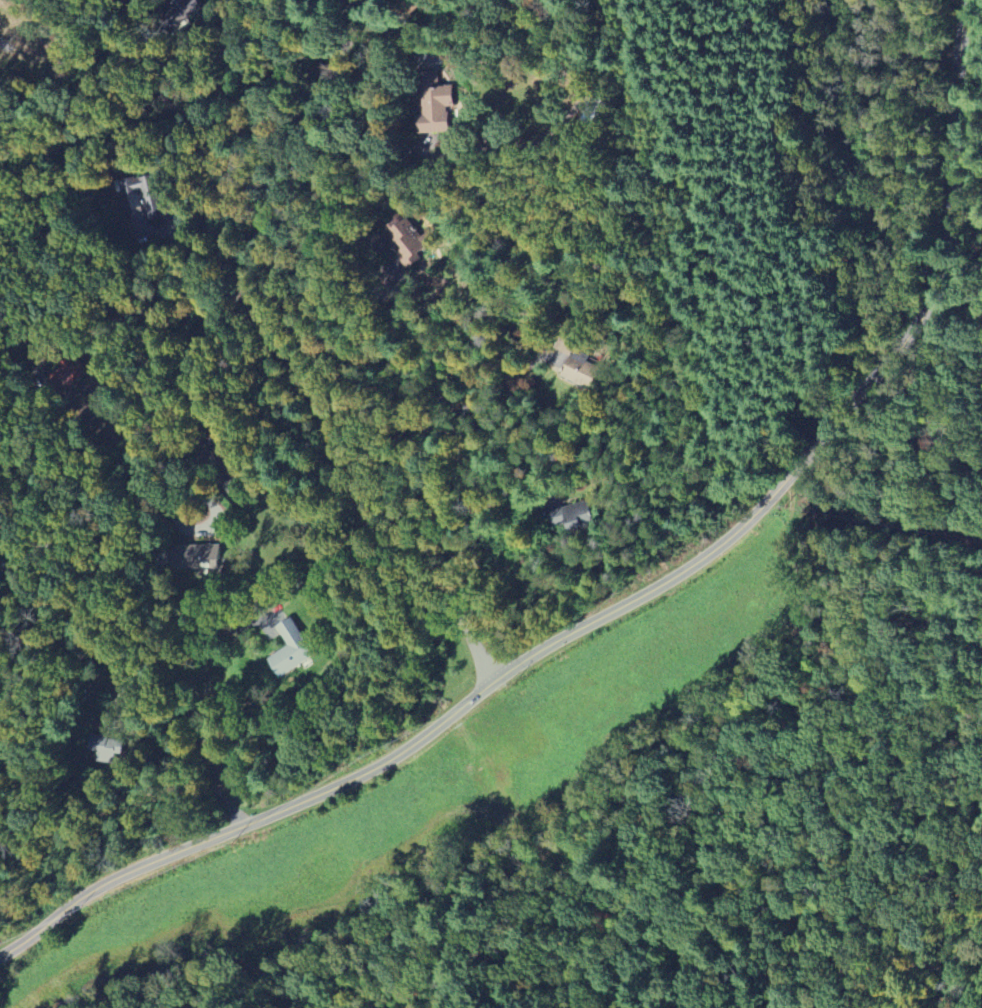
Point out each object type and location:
building: (184, 11)
road: (189, 34)
road: (371, 77)
building: (435, 106)
road: (301, 141)
building: (154, 214)
road: (731, 234)
road: (184, 236)
building: (406, 241)
road: (328, 254)
road: (128, 339)
building: (581, 370)
road: (446, 428)
road: (155, 463)
road: (352, 489)
building: (571, 518)
road: (67, 527)
road: (476, 544)
building: (194, 557)
road: (634, 601)
building: (290, 649)
road: (119, 671)
road: (49, 702)
road: (202, 709)
building: (107, 748)
road: (608, 814)

